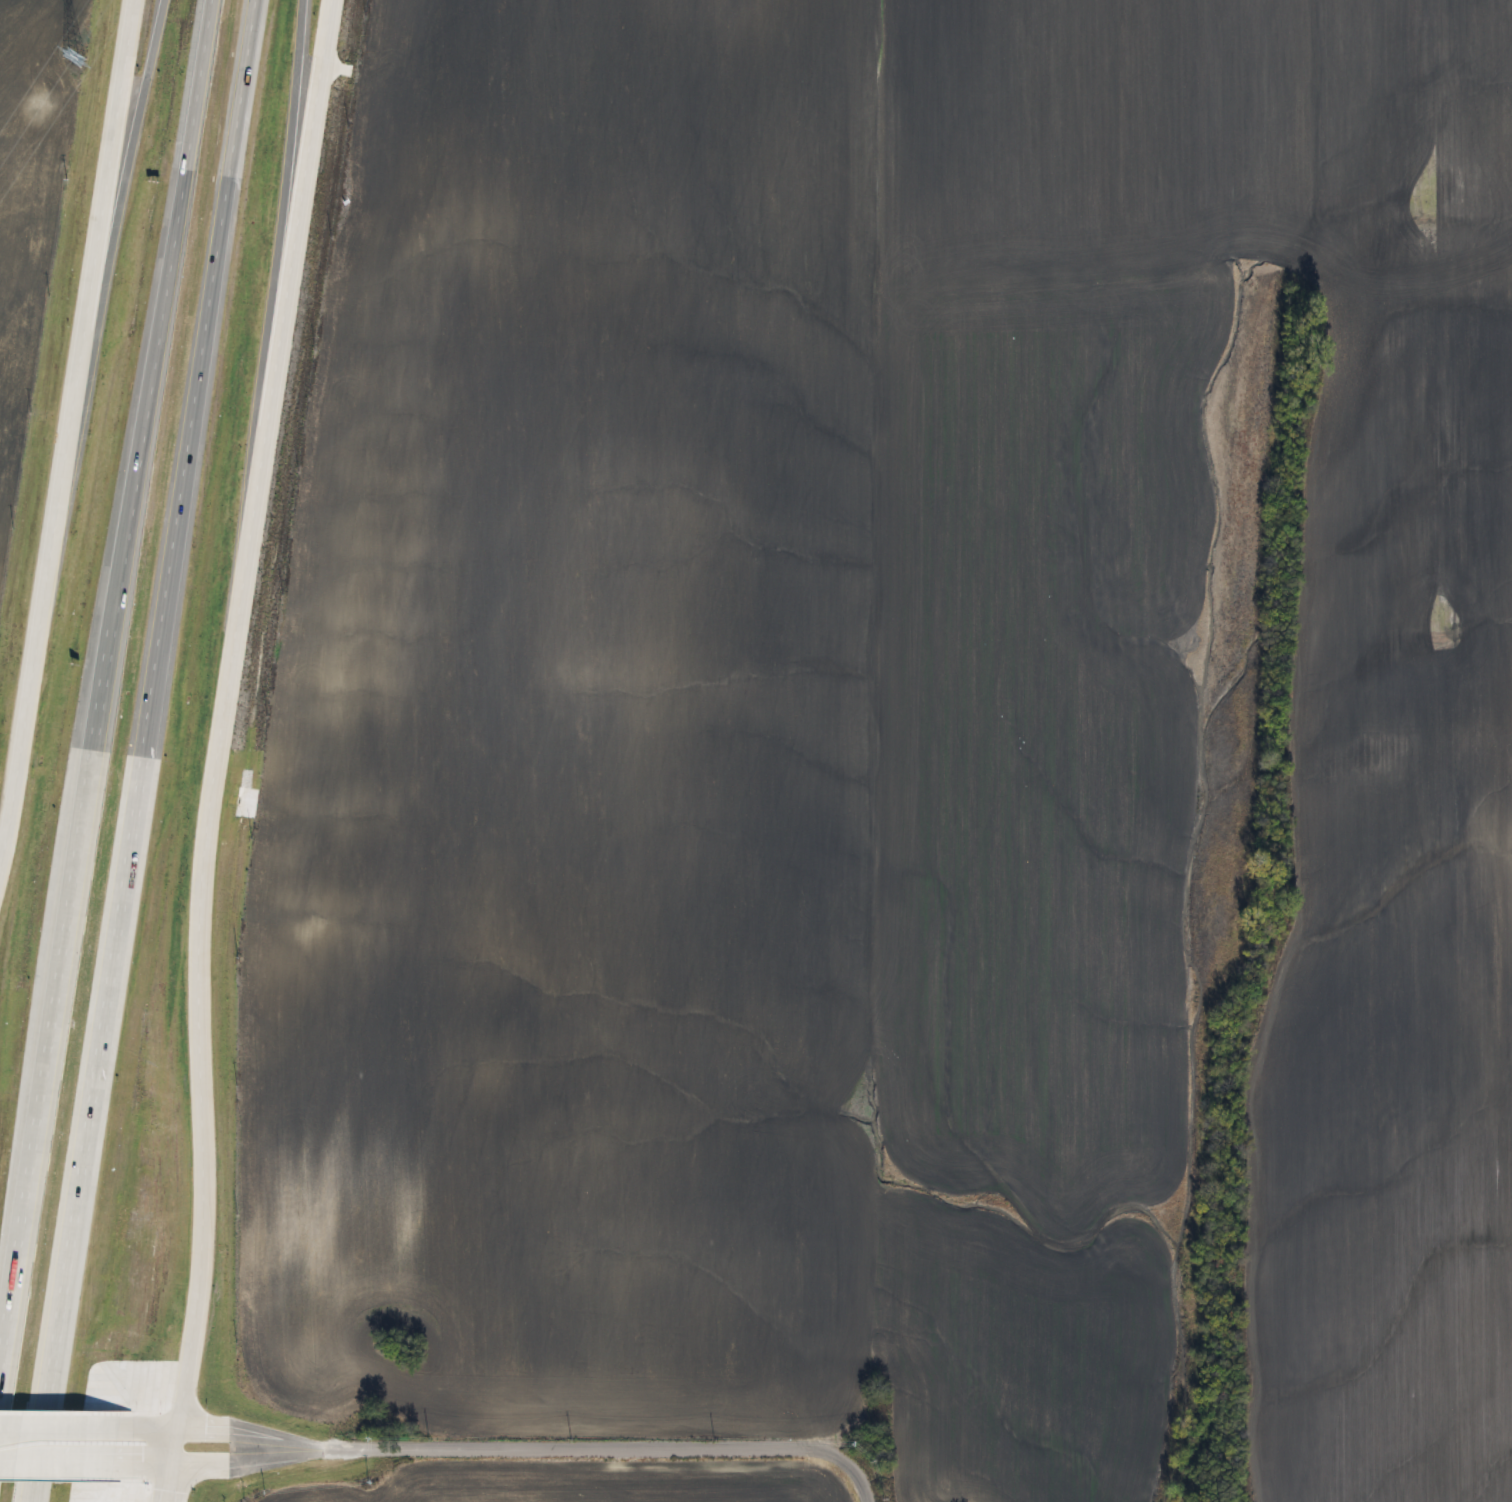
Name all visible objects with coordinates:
road: (144, 22)
road: (288, 71)
power tower: (37, 108)
road: (147, 423)
road: (75, 429)
road: (156, 633)
road: (211, 726)
road: (40, 1116)
road: (41, 1383)
road: (532, 1451)
road: (66, 1453)
road: (152, 1455)
road: (169, 1479)

